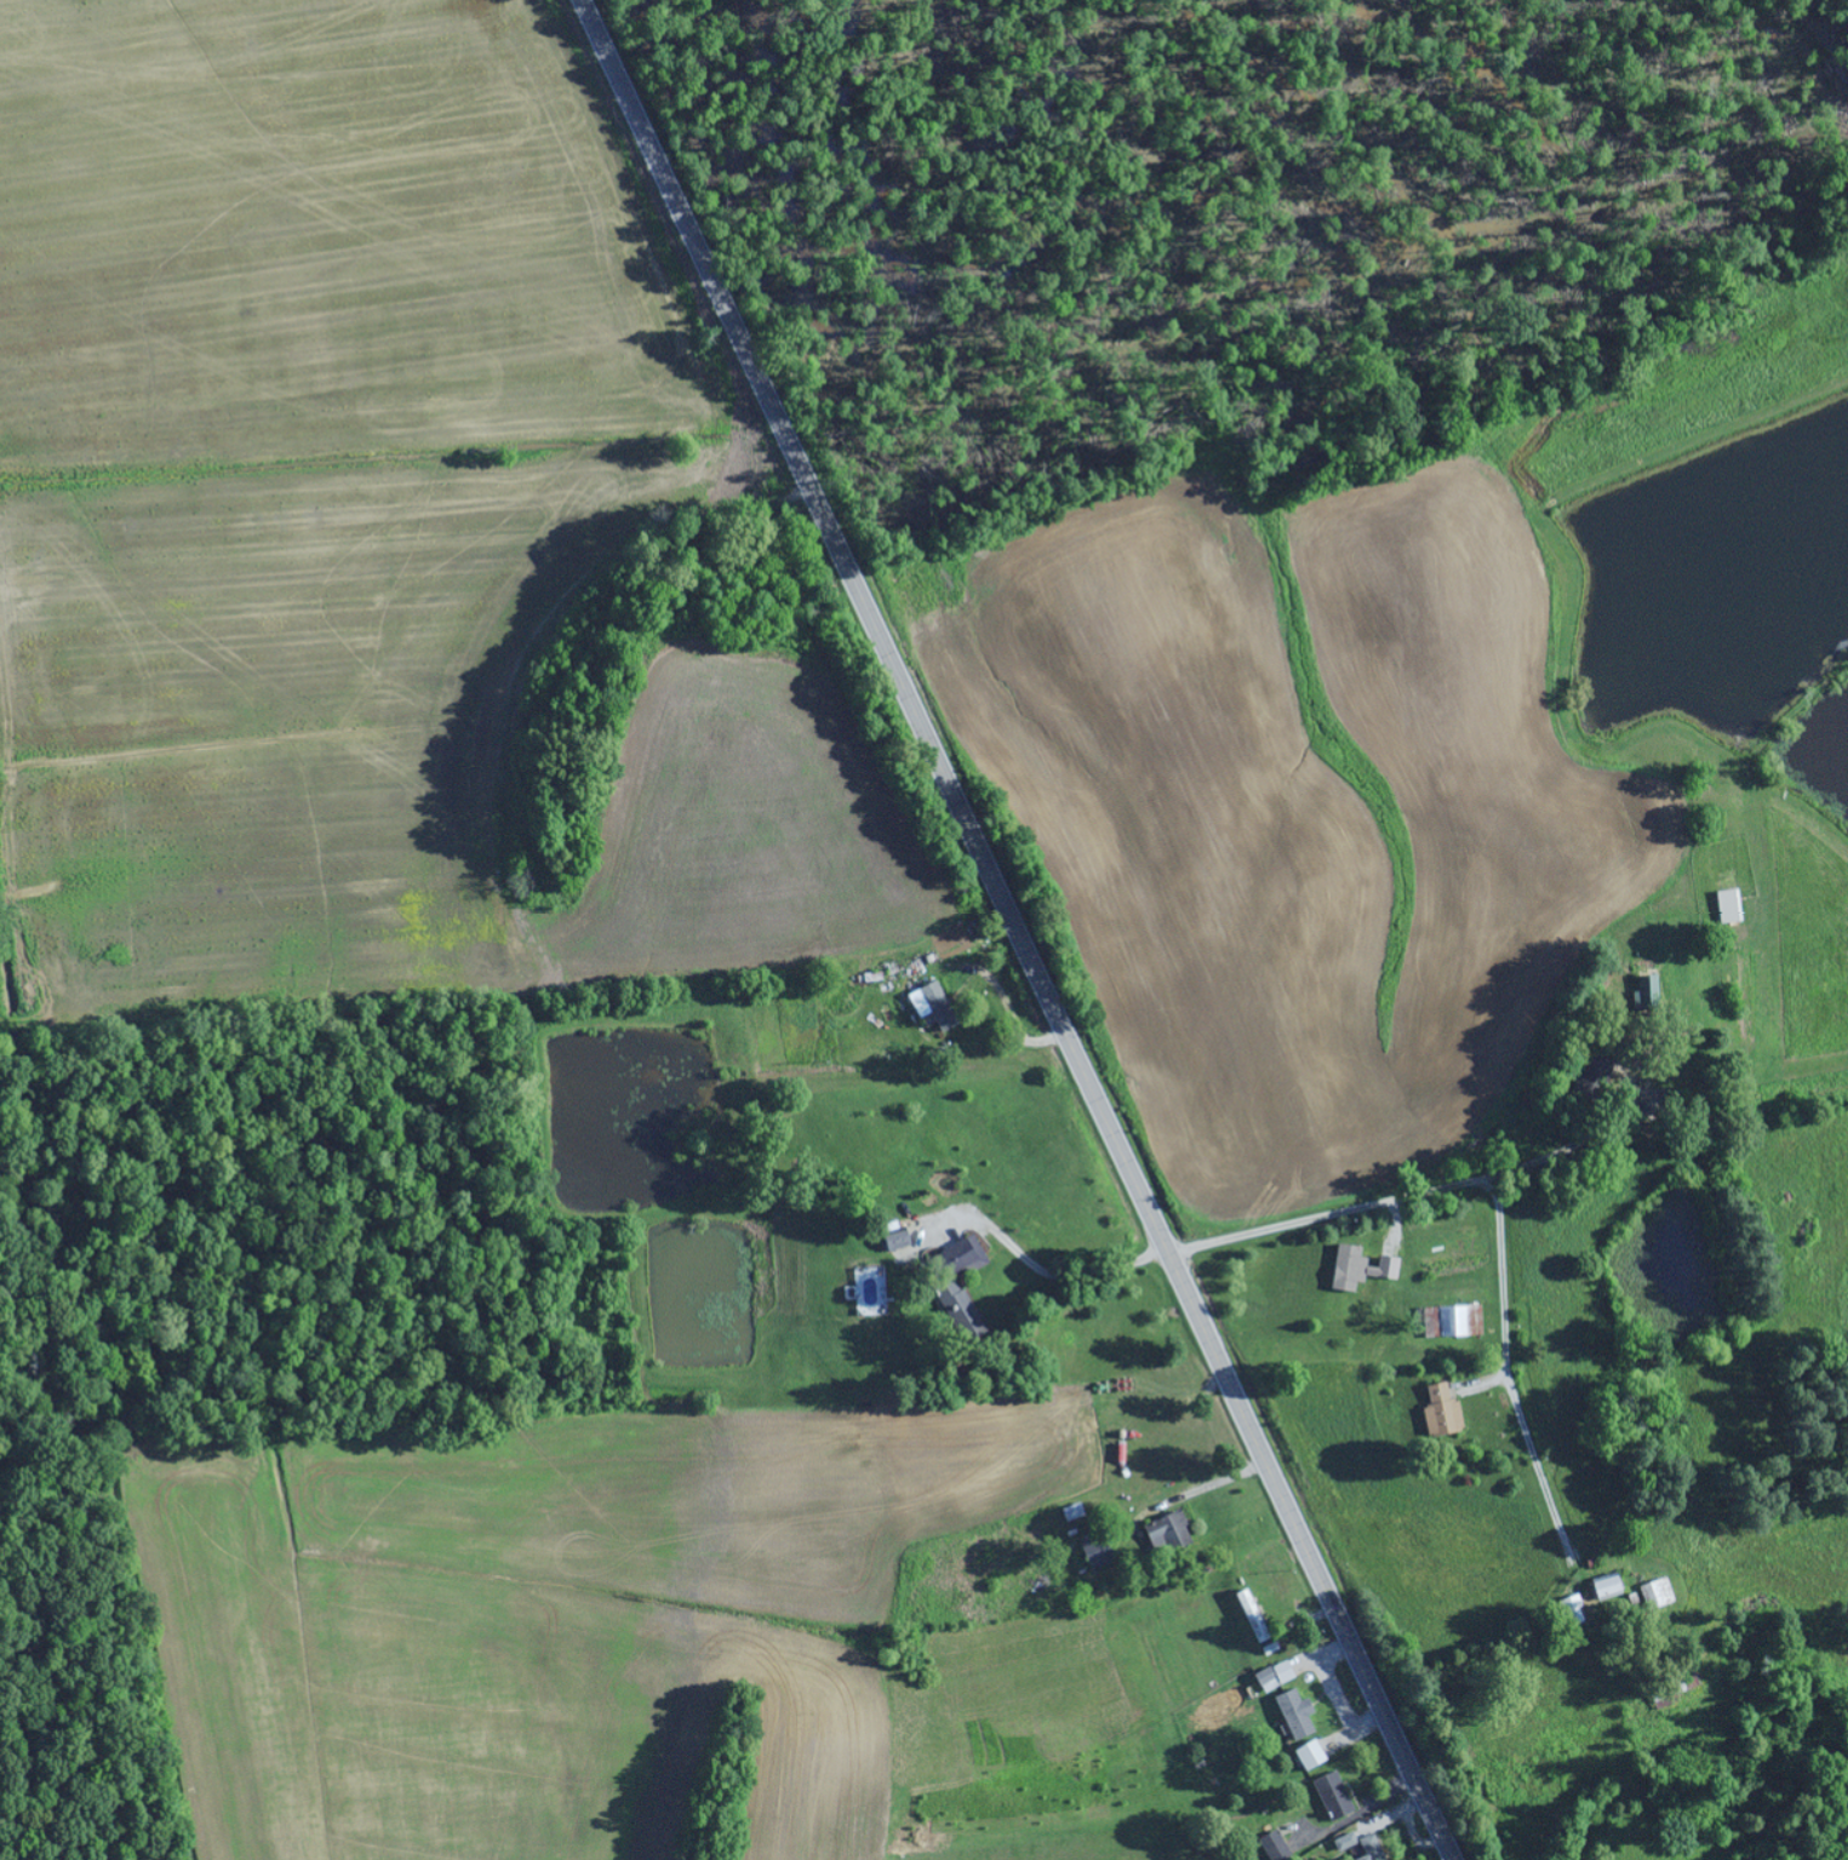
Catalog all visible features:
road: (1024, 926)
road: (1463, 1140)
building: (892, 1241)
building: (1355, 1267)
building: (952, 1282)
building: (1454, 1320)
road: (1592, 1333)
building: (1438, 1410)
building: (1165, 1532)
building: (1598, 1589)
building: (1246, 1608)
building: (1271, 1676)
building: (1292, 1713)
building: (1306, 1755)
building: (1329, 1796)
building: (1272, 1847)
building: (1366, 1848)

